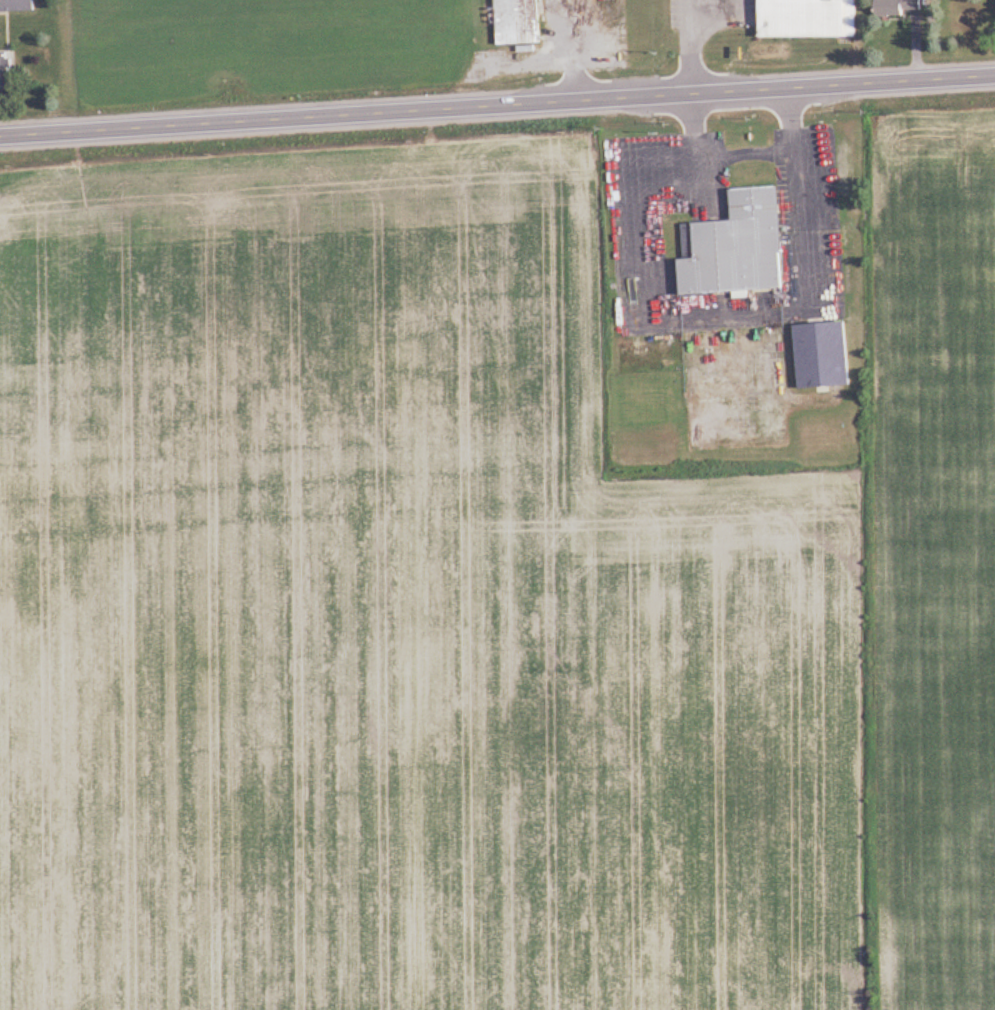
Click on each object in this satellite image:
building: (18, 6)
building: (898, 8)
building: (809, 19)
building: (517, 22)
building: (5, 72)
road: (497, 105)
building: (737, 248)
road: (689, 306)
building: (823, 357)

